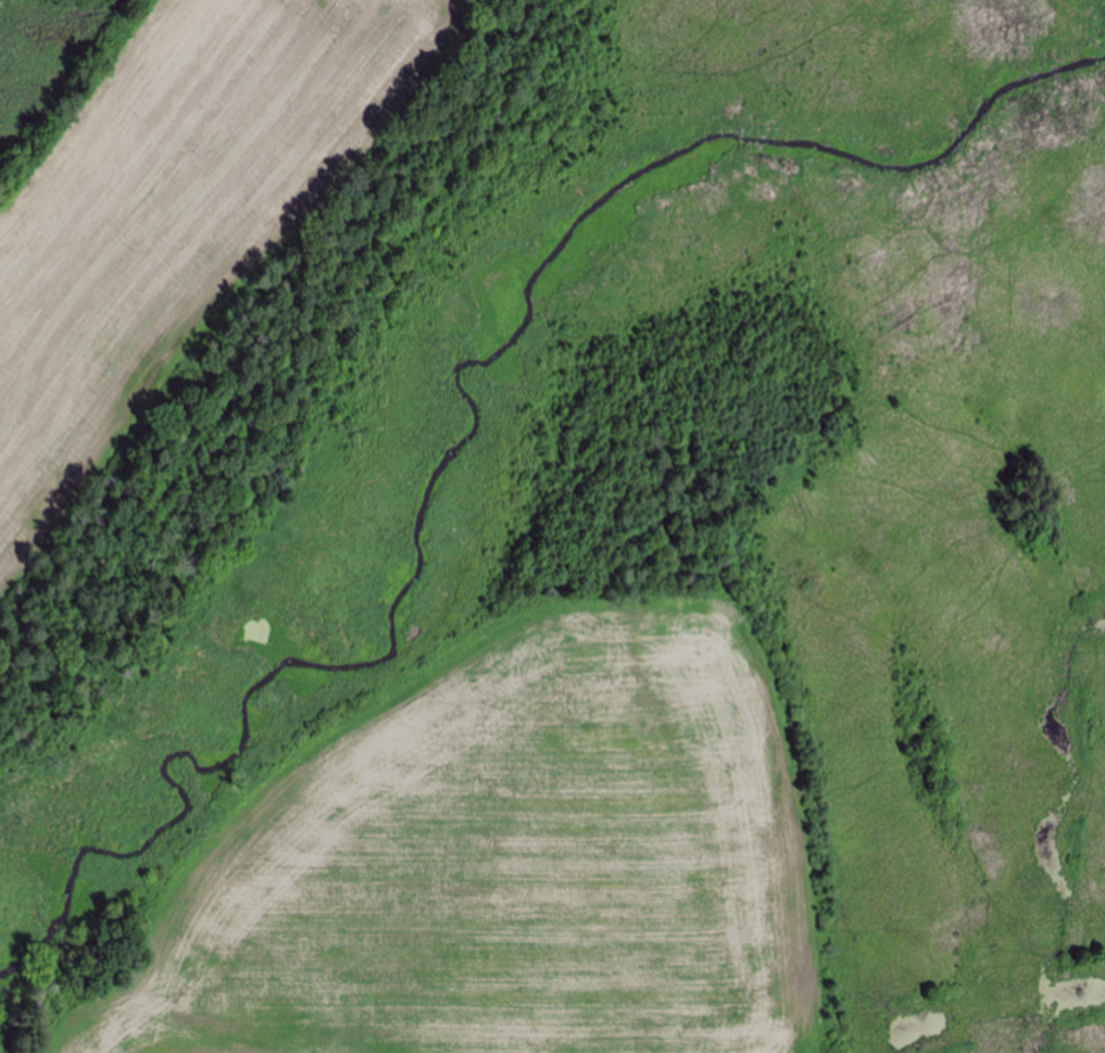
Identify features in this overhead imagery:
road: (280, 344)

